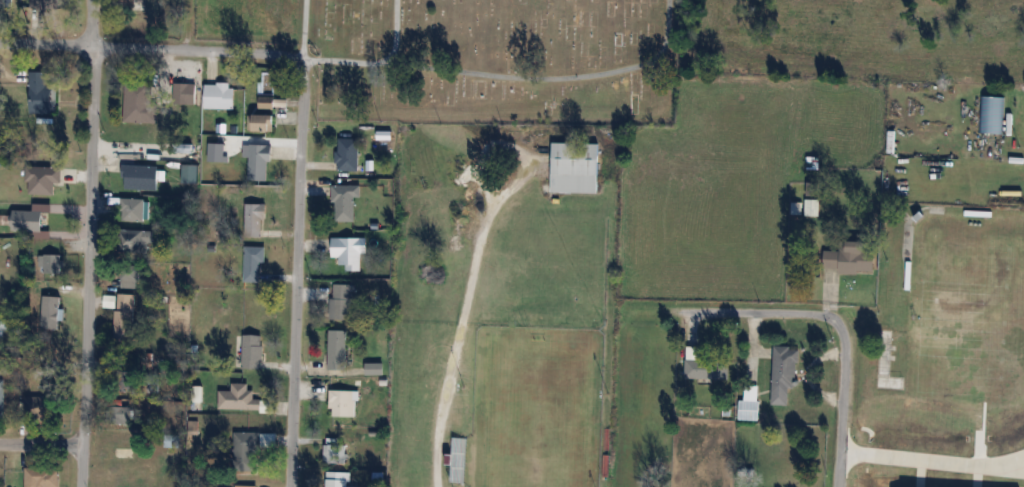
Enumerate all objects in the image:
building: (6, 3)
building: (46, 4)
road: (187, 25)
road: (392, 26)
road: (304, 29)
road: (152, 47)
park: (474, 57)
road: (512, 74)
building: (36, 87)
building: (186, 94)
building: (219, 96)
building: (140, 103)
building: (267, 103)
building: (990, 114)
building: (262, 123)
building: (348, 154)
building: (259, 161)
building: (38, 167)
building: (575, 167)
building: (141, 177)
building: (345, 202)
building: (812, 207)
building: (134, 210)
building: (22, 216)
building: (255, 219)
building: (138, 241)
road: (85, 243)
building: (349, 252)
building: (850, 258)
building: (53, 262)
building: (253, 262)
road: (295, 272)
building: (130, 275)
building: (342, 302)
road: (755, 310)
building: (51, 312)
building: (125, 318)
park: (968, 323)
building: (10, 330)
road: (459, 338)
building: (338, 349)
building: (253, 351)
building: (705, 366)
building: (375, 369)
building: (785, 373)
building: (141, 380)
building: (2, 398)
building: (239, 398)
road: (844, 399)
building: (343, 403)
building: (749, 403)
building: (42, 407)
building: (123, 415)
road: (40, 442)
building: (246, 449)
building: (334, 451)
road: (933, 462)
building: (120, 463)
building: (43, 477)
building: (340, 479)
building: (950, 484)
building: (996, 485)
building: (245, 486)

